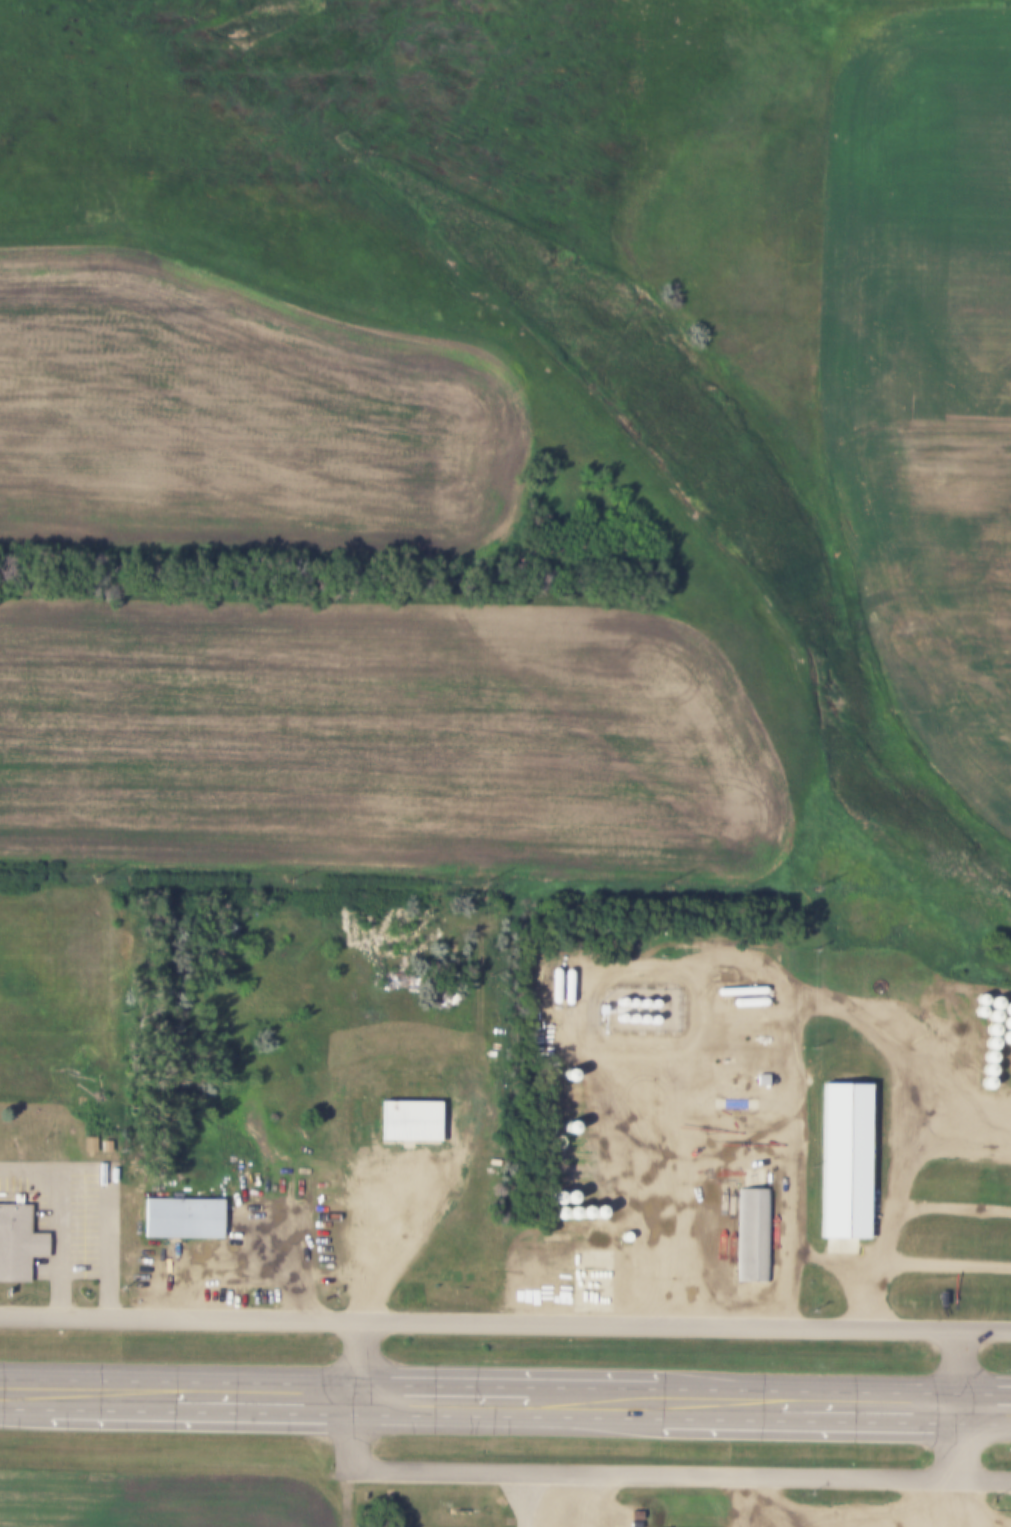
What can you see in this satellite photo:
storage tank: (552, 985)
storage tank: (565, 987)
storage tank: (739, 990)
storage tank: (618, 1001)
storage tank: (630, 1002)
storage tank: (747, 1002)
storage tank: (640, 1003)
storage tank: (651, 1003)
building: (596, 1009)
storage tank: (618, 1017)
storage tank: (629, 1018)
storage tank: (640, 1019)
storage tank: (651, 1019)
building: (759, 1079)
road: (733, 1103)
building: (408, 1115)
building: (842, 1153)
road: (897, 1164)
road: (687, 1201)
building: (180, 1212)
building: (750, 1230)
building: (16, 1243)
road: (505, 1321)
road: (505, 1387)
road: (962, 1404)
road: (505, 1419)
road: (617, 1470)
road: (528, 1498)
road: (603, 1498)
road: (744, 1499)

